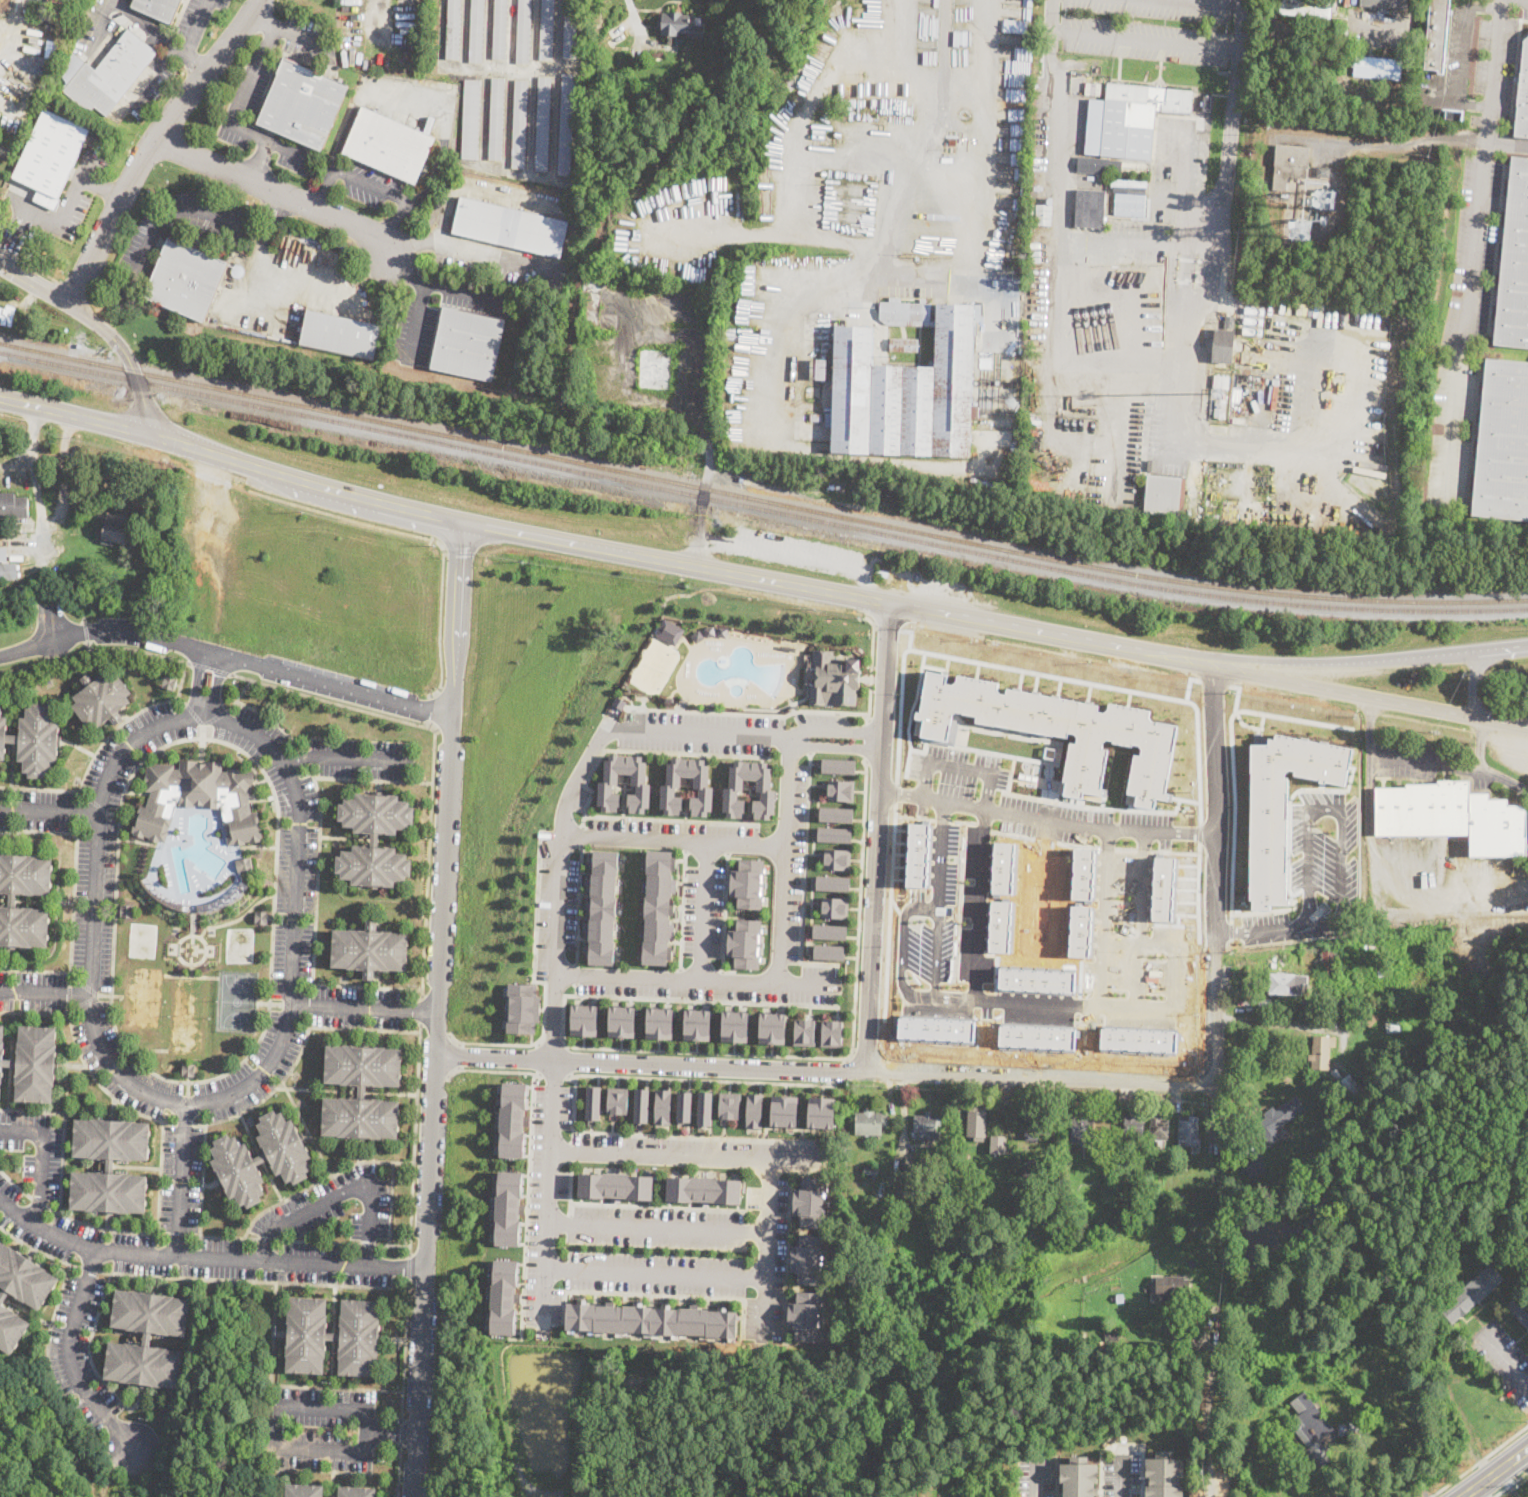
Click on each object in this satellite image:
road: (1222, 1)
building: (1385, 3)
building: (1306, 7)
building: (159, 8)
parking lot: (1525, 9)
road: (633, 13)
road: (1050, 13)
road: (375, 15)
road: (1271, 15)
parking lot: (198, 16)
road: (263, 16)
road: (1240, 22)
road: (1402, 23)
building: (680, 25)
building: (570, 28)
building: (500, 29)
parking lot: (1150, 29)
building: (453, 30)
building: (547, 30)
building: (476, 31)
building: (523, 31)
road: (158, 33)
road: (534, 33)
building: (1436, 35)
building: (615, 36)
road: (1144, 36)
road: (169, 50)
road: (1464, 55)
road: (894, 62)
parking lot: (1495, 65)
road: (511, 66)
building: (1377, 68)
building: (111, 75)
building: (1269, 75)
road: (244, 84)
parking lot: (148, 87)
parking lot: (248, 88)
road: (966, 88)
building: (1097, 93)
building: (1523, 97)
road: (410, 100)
building: (303, 104)
building: (1201, 108)
building: (1453, 114)
building: (1137, 117)
building: (497, 118)
building: (471, 119)
building: (519, 124)
building: (543, 124)
building: (566, 125)
road: (1507, 142)
building: (389, 145)
road: (1400, 145)
road: (153, 146)
road: (794, 152)
building: (51, 156)
road: (259, 159)
building: (1289, 164)
building: (1133, 168)
building: (1322, 172)
road: (522, 173)
road: (371, 185)
road: (325, 188)
road: (278, 190)
parking lot: (66, 195)
building: (1130, 196)
building: (1090, 207)
road: (179, 210)
building: (1043, 215)
road: (61, 216)
road: (390, 220)
building: (510, 227)
road: (740, 230)
road: (980, 242)
road: (1473, 245)
road: (473, 250)
parking lot: (134, 257)
building: (1514, 263)
road: (855, 271)
road: (403, 272)
building: (186, 279)
road: (428, 282)
building: (905, 312)
building: (7, 315)
building: (1229, 322)
road: (104, 328)
parking lot: (1464, 331)
building: (340, 334)
parking lot: (411, 337)
building: (468, 344)
building: (904, 345)
building: (1223, 346)
road: (1119, 360)
building: (820, 369)
building: (655, 370)
building: (1221, 382)
building: (904, 393)
building: (1220, 409)
building: (816, 416)
building: (1503, 443)
road: (706, 481)
building: (855, 492)
building: (1162, 495)
railway: (760, 497)
building: (13, 506)
railway: (760, 506)
road: (47, 519)
building: (115, 529)
road: (423, 535)
road: (586, 548)
road: (459, 549)
building: (3, 553)
building: (8, 570)
road: (51, 621)
road: (86, 630)
building: (670, 631)
building: (710, 631)
building: (723, 631)
building: (698, 636)
road: (1508, 648)
road: (137, 649)
road: (227, 656)
road: (1369, 659)
road: (1198, 661)
road: (1233, 661)
park: (655, 665)
road: (210, 667)
road: (1234, 669)
building: (834, 679)
building: (168, 682)
road: (1473, 682)
road: (206, 683)
road: (239, 694)
building: (101, 698)
building: (669, 699)
road: (1390, 699)
road: (181, 700)
building: (619, 702)
road: (802, 710)
road: (432, 711)
road: (194, 714)
road: (202, 715)
road: (266, 716)
road: (215, 717)
building: (1060, 730)
road: (868, 737)
building: (34, 738)
road: (201, 743)
road: (1479, 743)
road: (99, 745)
road: (641, 749)
road: (347, 755)
road: (963, 757)
road: (433, 758)
road: (1421, 761)
building: (840, 764)
building: (198, 782)
building: (609, 782)
building: (671, 786)
building: (733, 789)
building: (840, 790)
road: (84, 795)
road: (97, 805)
building: (1282, 805)
road: (1046, 809)
road: (48, 810)
road: (1338, 810)
road: (113, 812)
building: (836, 814)
building: (1452, 816)
road: (320, 818)
road: (671, 819)
building: (154, 821)
building: (242, 826)
building: (834, 834)
road: (583, 835)
road: (876, 837)
building: (375, 839)
road: (672, 841)
road: (258, 845)
road: (942, 850)
building: (917, 854)
building: (839, 858)
road: (784, 860)
building: (244, 863)
building: (1004, 866)
building: (1084, 872)
road: (803, 875)
road: (559, 880)
building: (749, 883)
building: (835, 883)
building: (1163, 886)
building: (12, 899)
road: (72, 899)
road: (1216, 901)
road: (578, 904)
building: (603, 906)
building: (834, 907)
road: (682, 909)
building: (126, 910)
building: (660, 910)
road: (725, 911)
road: (704, 912)
road: (1141, 914)
building: (261, 916)
building: (899, 922)
building: (999, 926)
building: (1080, 930)
building: (830, 931)
road: (1260, 932)
park: (142, 939)
building: (744, 943)
park: (240, 944)
building: (370, 949)
road: (904, 949)
building: (829, 951)
road: (936, 951)
road: (1175, 957)
building: (1331, 961)
building: (1382, 973)
road: (73, 976)
road: (694, 980)
road: (540, 981)
building: (1037, 981)
building: (1287, 984)
road: (360, 985)
road: (87, 987)
road: (42, 992)
road: (109, 994)
road: (952, 997)
road: (87, 999)
park: (236, 1000)
road: (1029, 1000)
building: (1264, 1004)
road: (1135, 1005)
building: (1306, 1006)
road: (362, 1007)
building: (523, 1008)
road: (435, 1009)
road: (420, 1010)
road: (40, 1013)
building: (1370, 1017)
building: (584, 1019)
building: (930, 1020)
building: (622, 1021)
building: (659, 1022)
building: (697, 1023)
building: (1393, 1024)
building: (734, 1026)
road: (358, 1028)
building: (773, 1028)
building: (1031, 1028)
building: (804, 1031)
building: (1133, 1032)
building: (831, 1033)
road: (551, 1042)
road: (693, 1050)
building: (1320, 1053)
road: (459, 1055)
road: (539, 1056)
road: (566, 1059)
building: (33, 1062)
building: (188, 1069)
road: (825, 1069)
road: (838, 1070)
road: (553, 1074)
road: (571, 1074)
road: (433, 1075)
road: (669, 1077)
road: (185, 1081)
road: (98, 1082)
building: (1347, 1083)
road: (187, 1088)
building: (362, 1090)
road: (267, 1094)
building: (617, 1100)
building: (593, 1102)
road: (179, 1103)
road: (192, 1103)
building: (641, 1105)
building: (685, 1105)
building: (729, 1105)
building: (662, 1106)
building: (705, 1108)
building: (751, 1110)
building: (781, 1110)
road: (902, 1111)
building: (816, 1113)
building: (513, 1119)
building: (1274, 1122)
road: (184, 1123)
building: (870, 1123)
building: (977, 1123)
building: (1037, 1123)
building: (1132, 1126)
building: (926, 1127)
building: (1082, 1127)
building: (1159, 1128)
road: (63, 1129)
building: (1189, 1133)
road: (698, 1136)
road: (414, 1138)
building: (998, 1145)
road: (572, 1152)
road: (529, 1155)
road: (687, 1155)
road: (43, 1156)
building: (261, 1158)
building: (110, 1165)
building: (1254, 1167)
building: (871, 1170)
building: (1029, 1170)
road: (159, 1171)
road: (181, 1179)
road: (319, 1180)
building: (940, 1182)
road: (15, 1184)
building: (905, 1184)
building: (615, 1185)
road: (571, 1187)
building: (703, 1188)
building: (880, 1189)
road: (344, 1192)
building: (810, 1201)
road: (39, 1202)
road: (391, 1203)
road: (200, 1204)
road: (670, 1206)
building: (509, 1207)
road: (656, 1226)
road: (100, 1227)
road: (267, 1239)
road: (318, 1241)
road: (368, 1243)
road: (393, 1245)
road: (766, 1246)
road: (39, 1249)
road: (205, 1256)
building: (806, 1258)
road: (409, 1267)
road: (90, 1268)
road: (655, 1271)
road: (253, 1280)
building: (1172, 1285)
building: (20, 1291)
road: (656, 1293)
building: (1470, 1293)
building: (505, 1296)
building: (1119, 1298)
building: (1520, 1307)
building: (803, 1315)
building: (652, 1318)
road: (49, 1330)
building: (333, 1335)
building: (148, 1338)
building: (1104, 1343)
building: (1065, 1344)
road: (89, 1346)
road: (404, 1350)
building: (1187, 1355)
road: (71, 1357)
parking lot: (1503, 1359)
road: (1505, 1359)
road: (851, 1361)
road: (284, 1384)
road: (283, 1402)
road: (1206, 1422)
building: (1342, 1430)
building: (1355, 1430)
building: (1311, 1431)
road: (401, 1432)
building: (1232, 1437)
building: (1251, 1442)
road: (1477, 1461)
road: (320, 1470)
road: (399, 1470)
parking lot: (1122, 1471)
road: (1494, 1472)
road: (1099, 1474)
building: (1162, 1475)
parking lot: (1034, 1476)
road: (1055, 1476)
building: (1076, 1478)
road: (1034, 1479)
road: (1120, 1479)
road: (1509, 1483)
building: (303, 1489)
building: (356, 1491)

